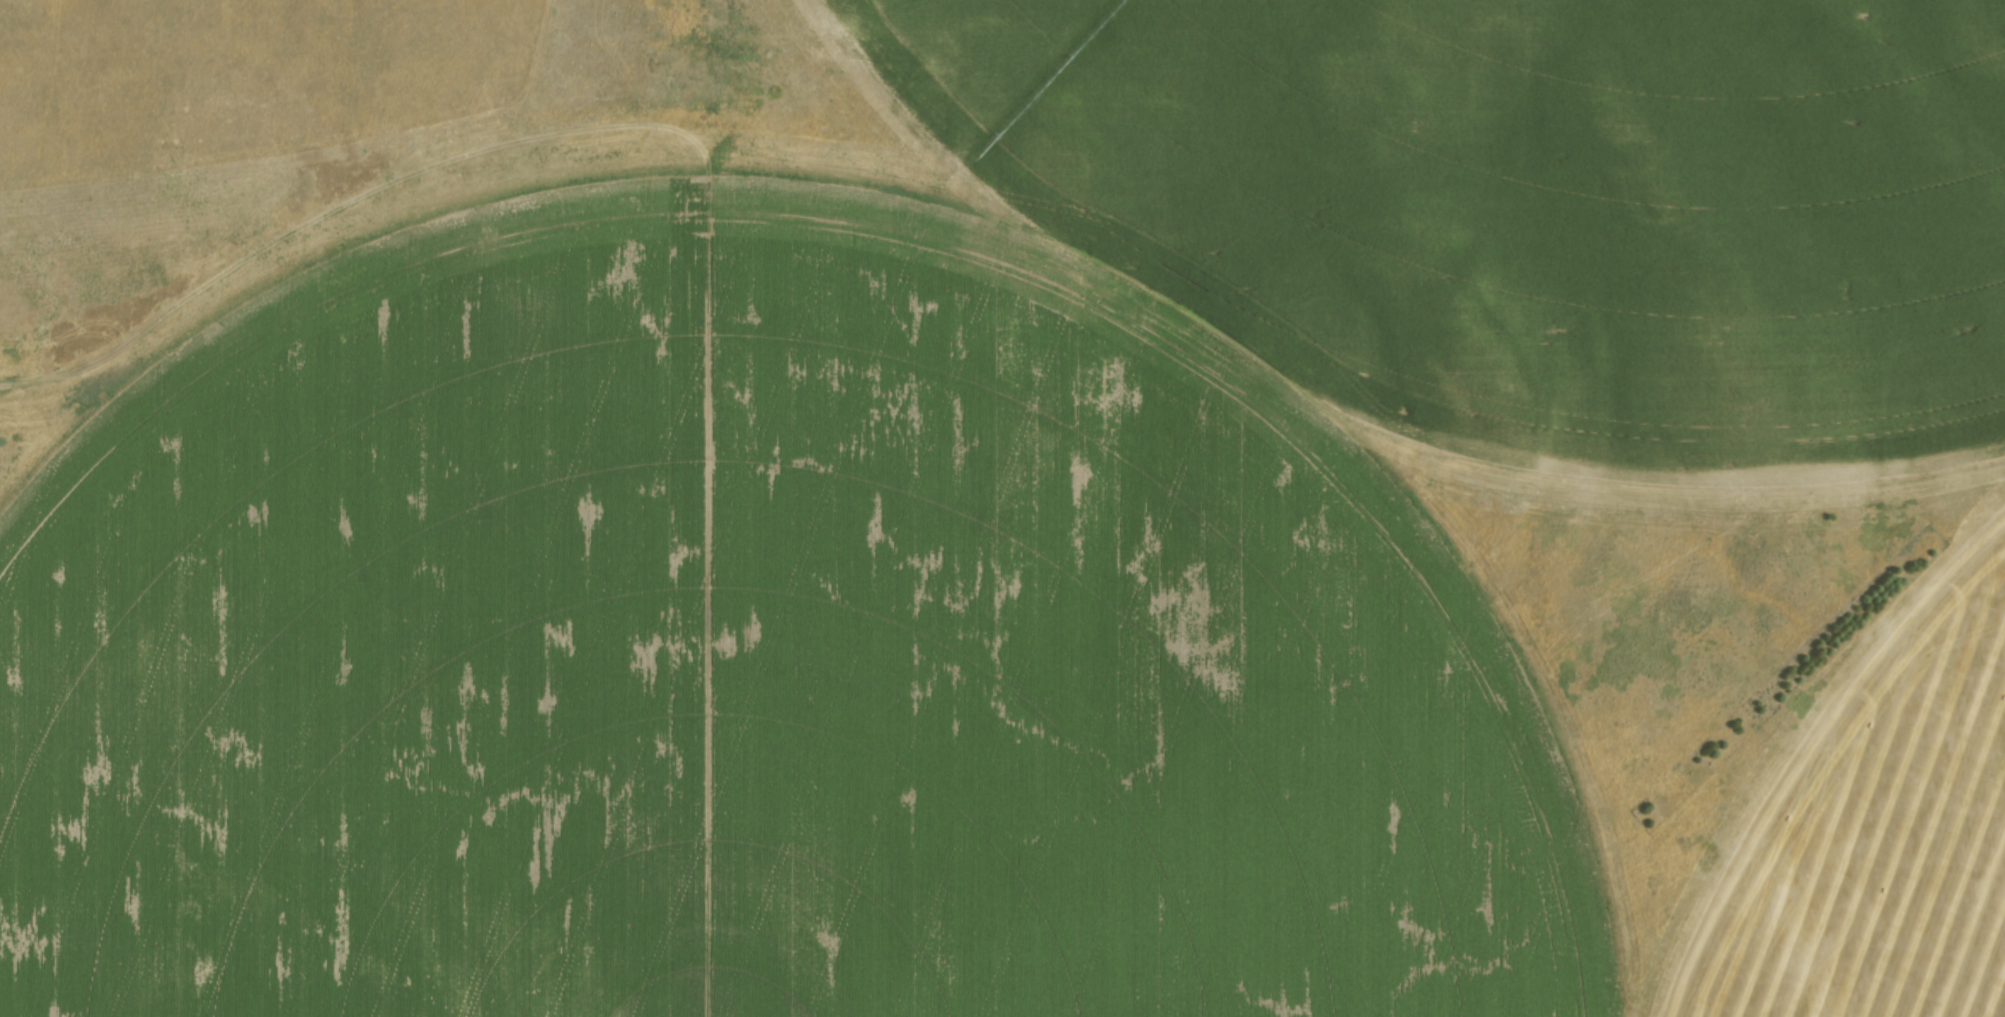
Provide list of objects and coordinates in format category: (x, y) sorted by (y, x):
crop: (974, 526)
crop: (1885, 845)

